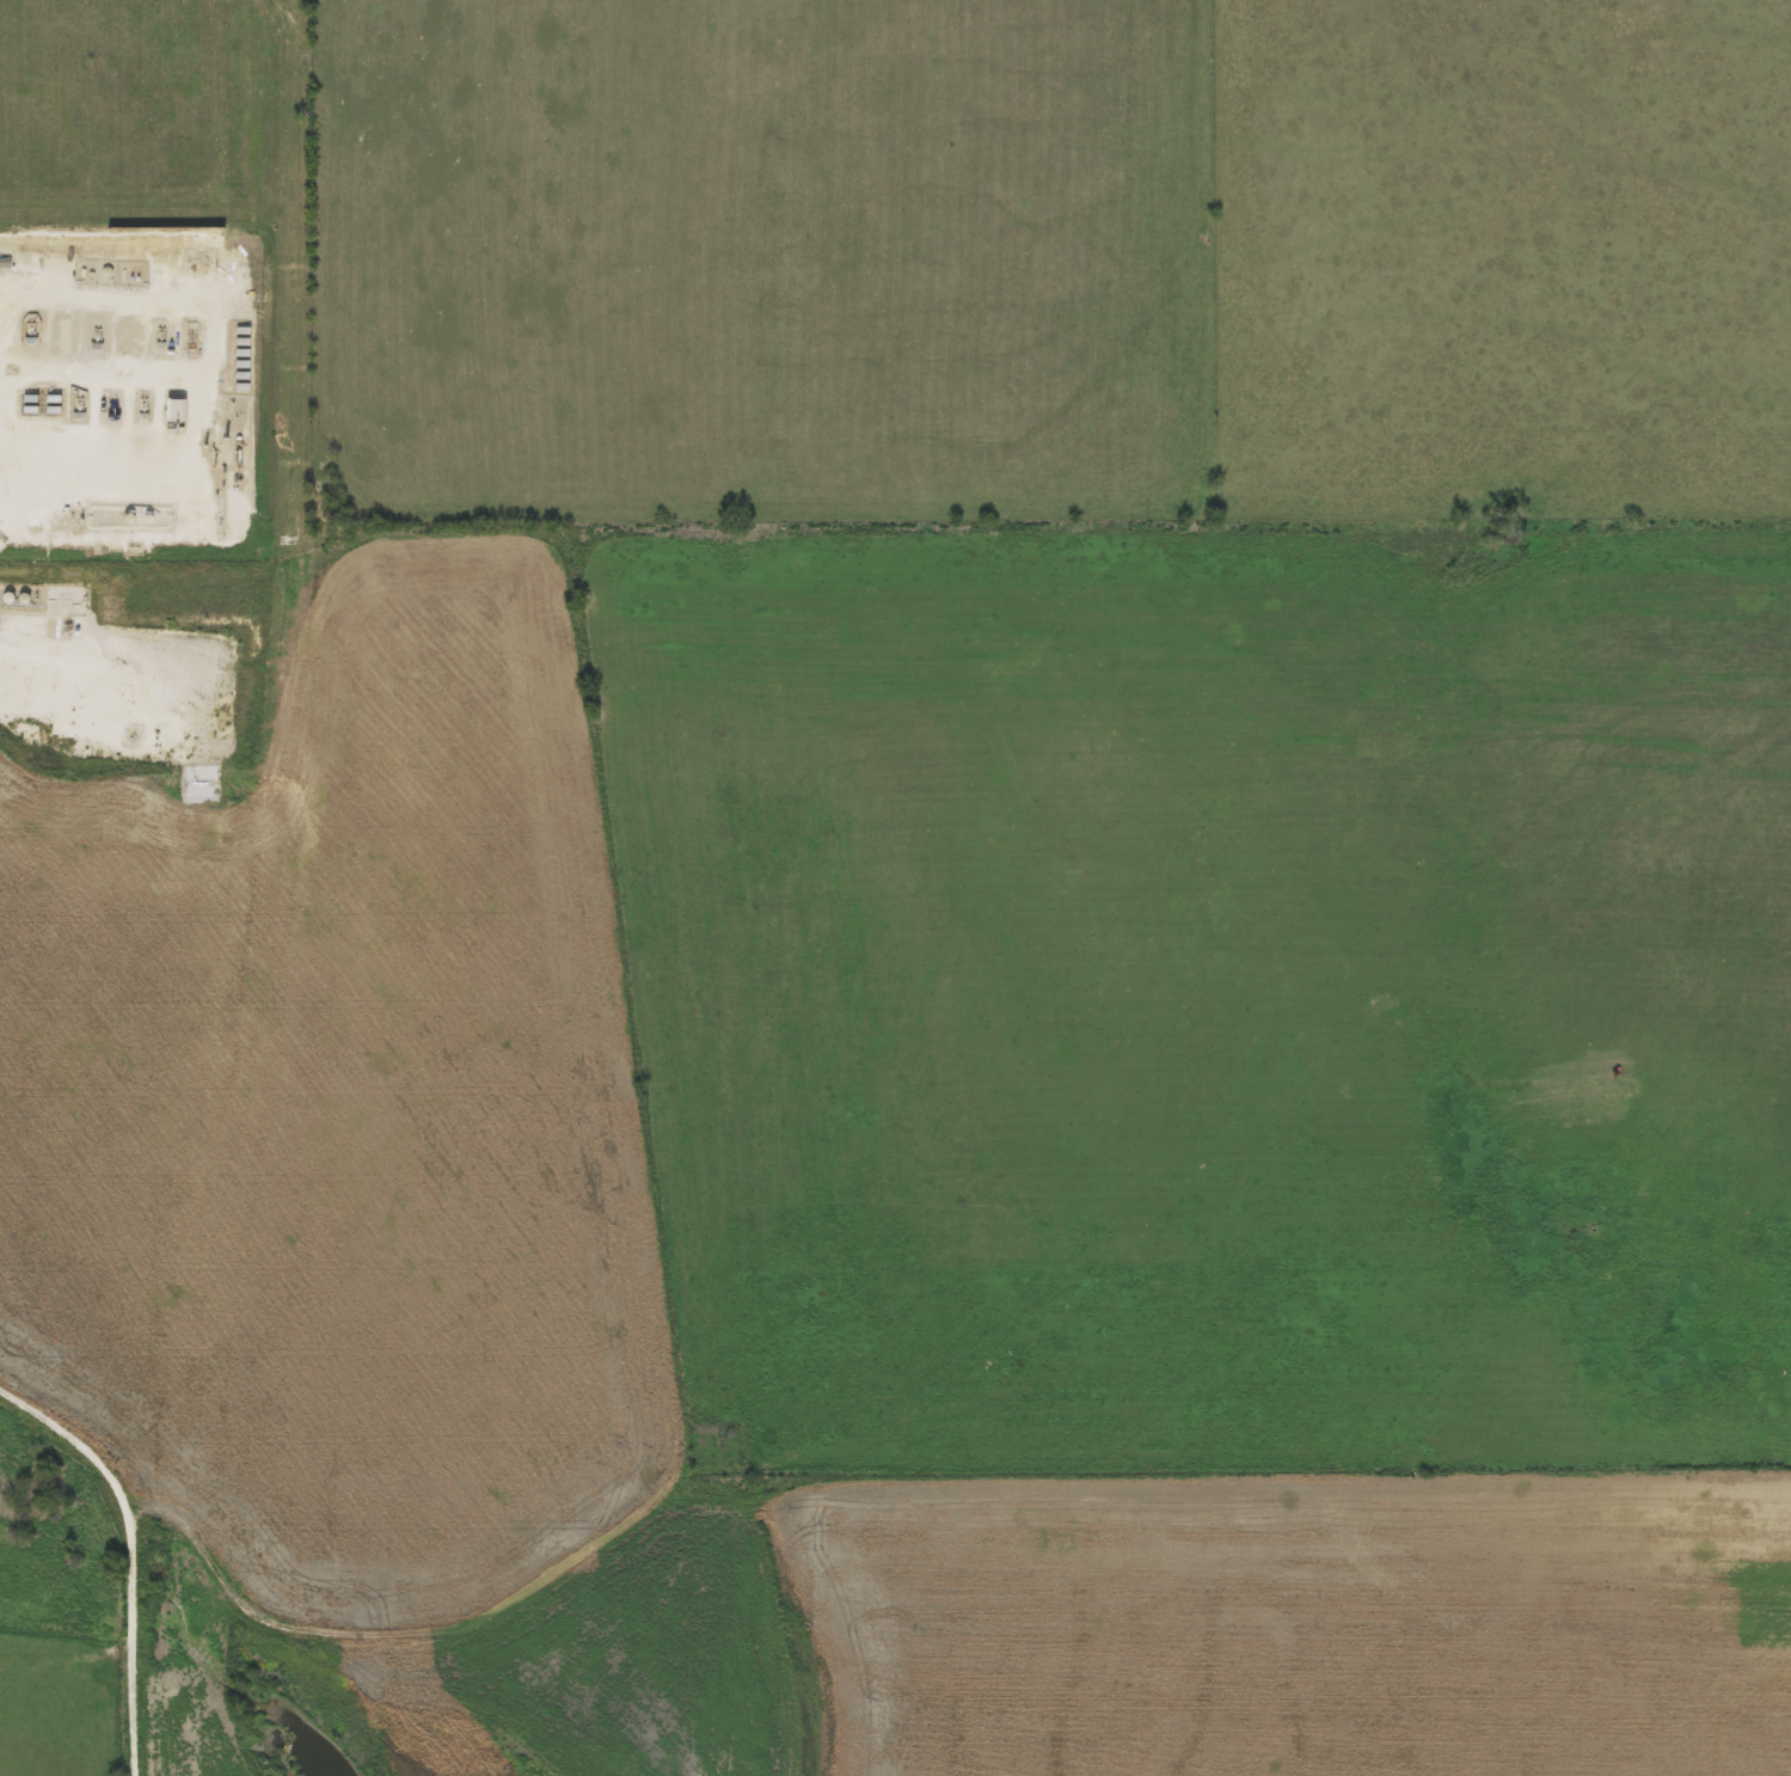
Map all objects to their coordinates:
building: (196, 791)
road: (127, 1556)

